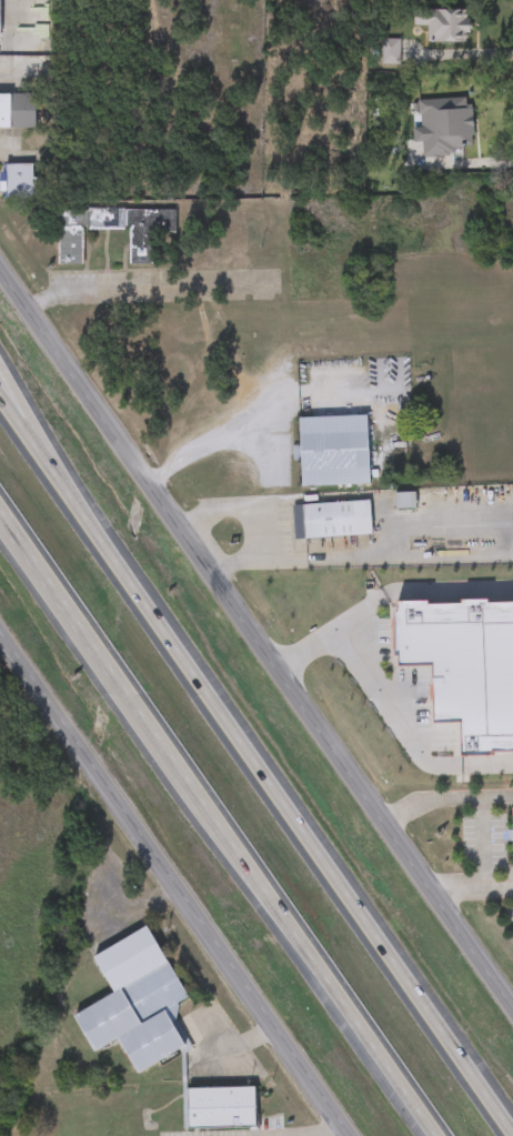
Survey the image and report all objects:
building: (1, 17)
building: (443, 23)
building: (18, 110)
building: (20, 182)
building: (151, 237)
road: (145, 289)
road: (29, 415)
road: (26, 432)
road: (219, 439)
building: (332, 451)
road: (243, 505)
building: (332, 520)
road: (6, 523)
road: (323, 554)
road: (384, 595)
road: (256, 636)
road: (385, 696)
road: (474, 765)
road: (497, 795)
road: (476, 796)
road: (282, 798)
road: (219, 823)
building: (512, 834)
road: (175, 884)
road: (473, 887)
building: (134, 1003)
road: (237, 1041)
building: (221, 1108)
road: (306, 1133)

